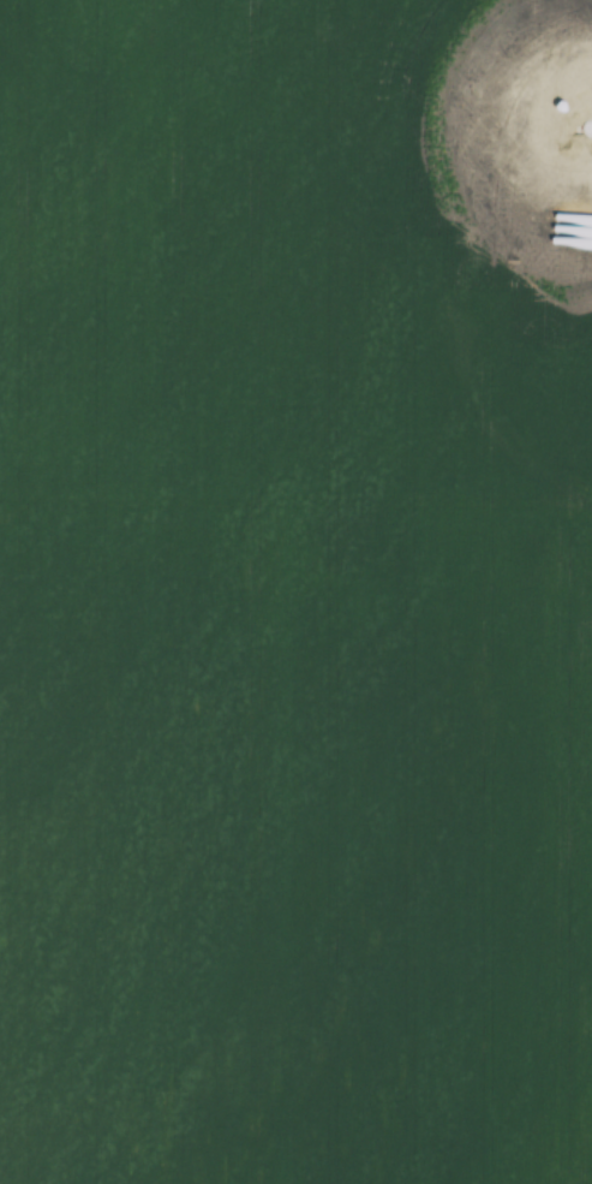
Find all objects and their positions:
wind turbine: (576, 127)

